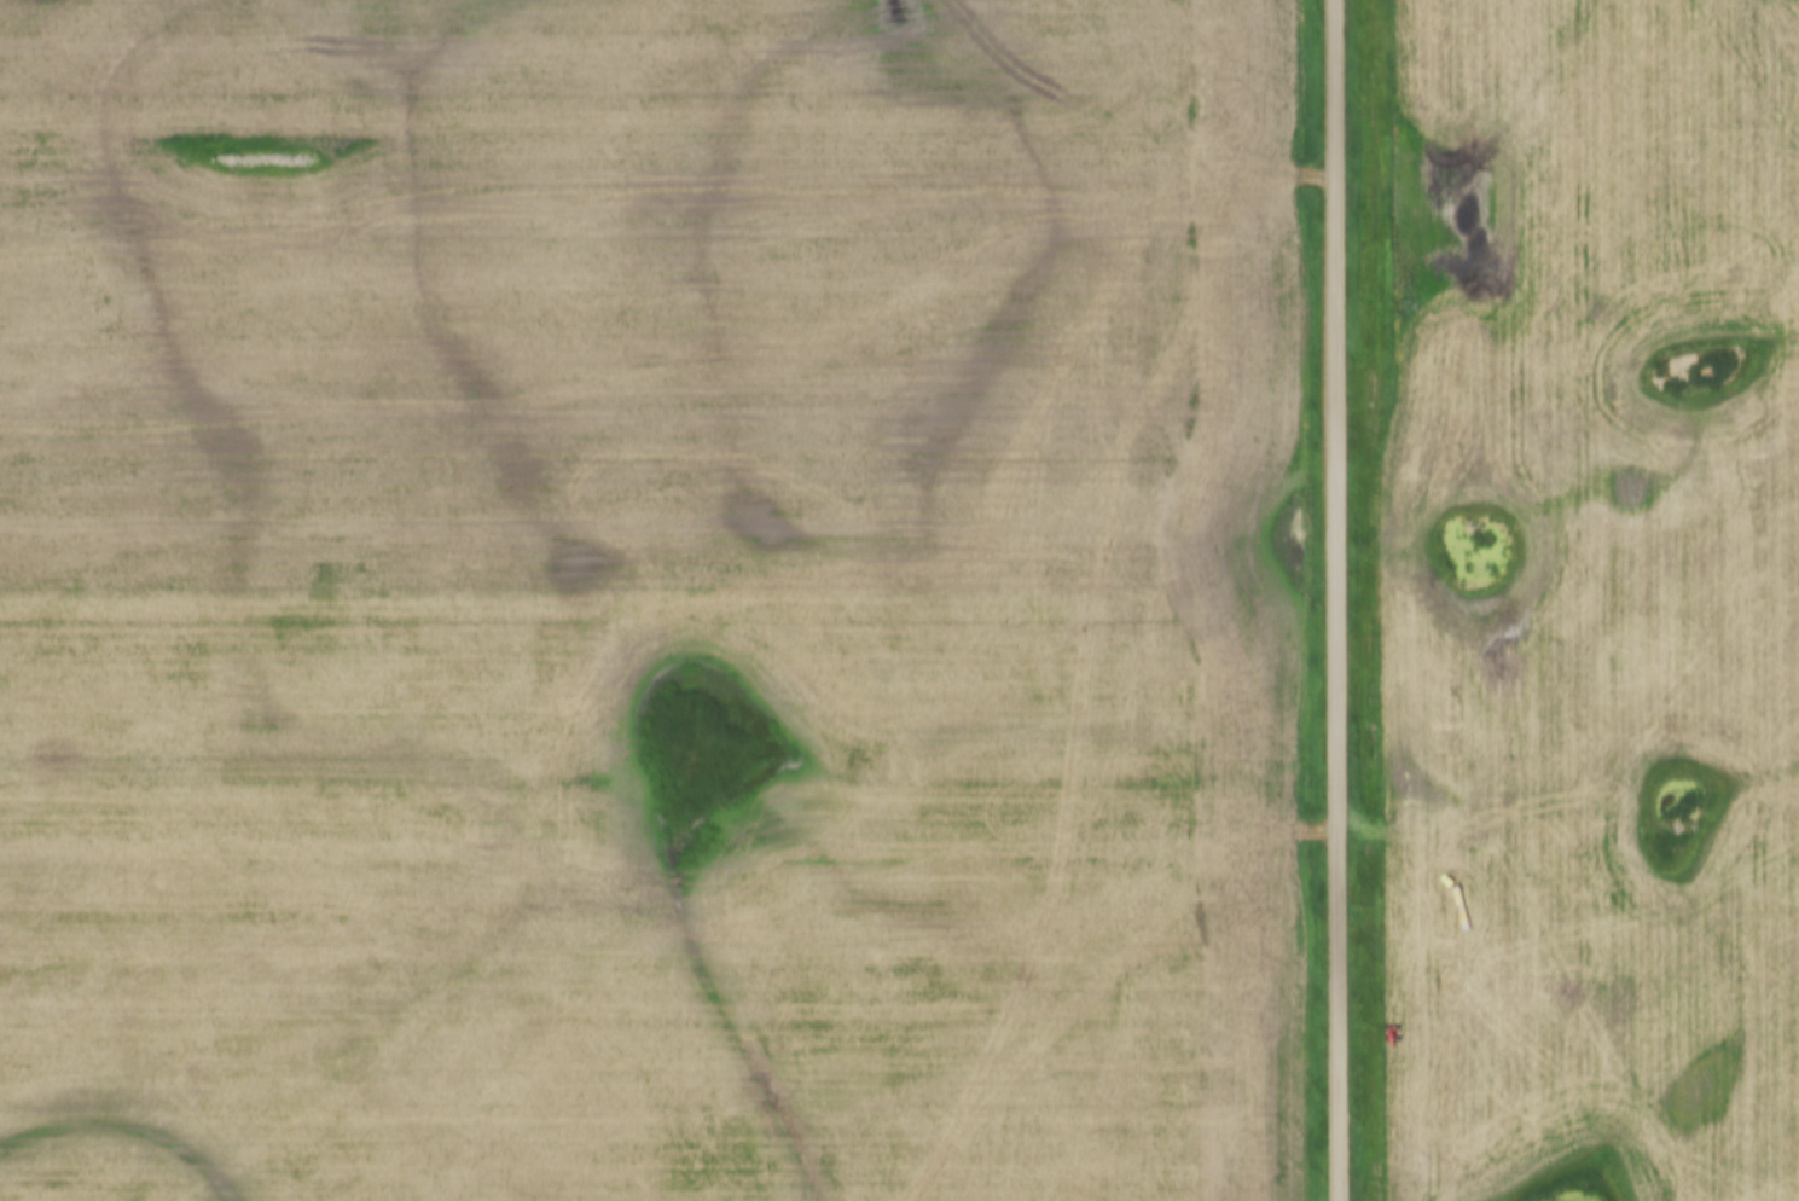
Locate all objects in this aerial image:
road: (1336, 600)

